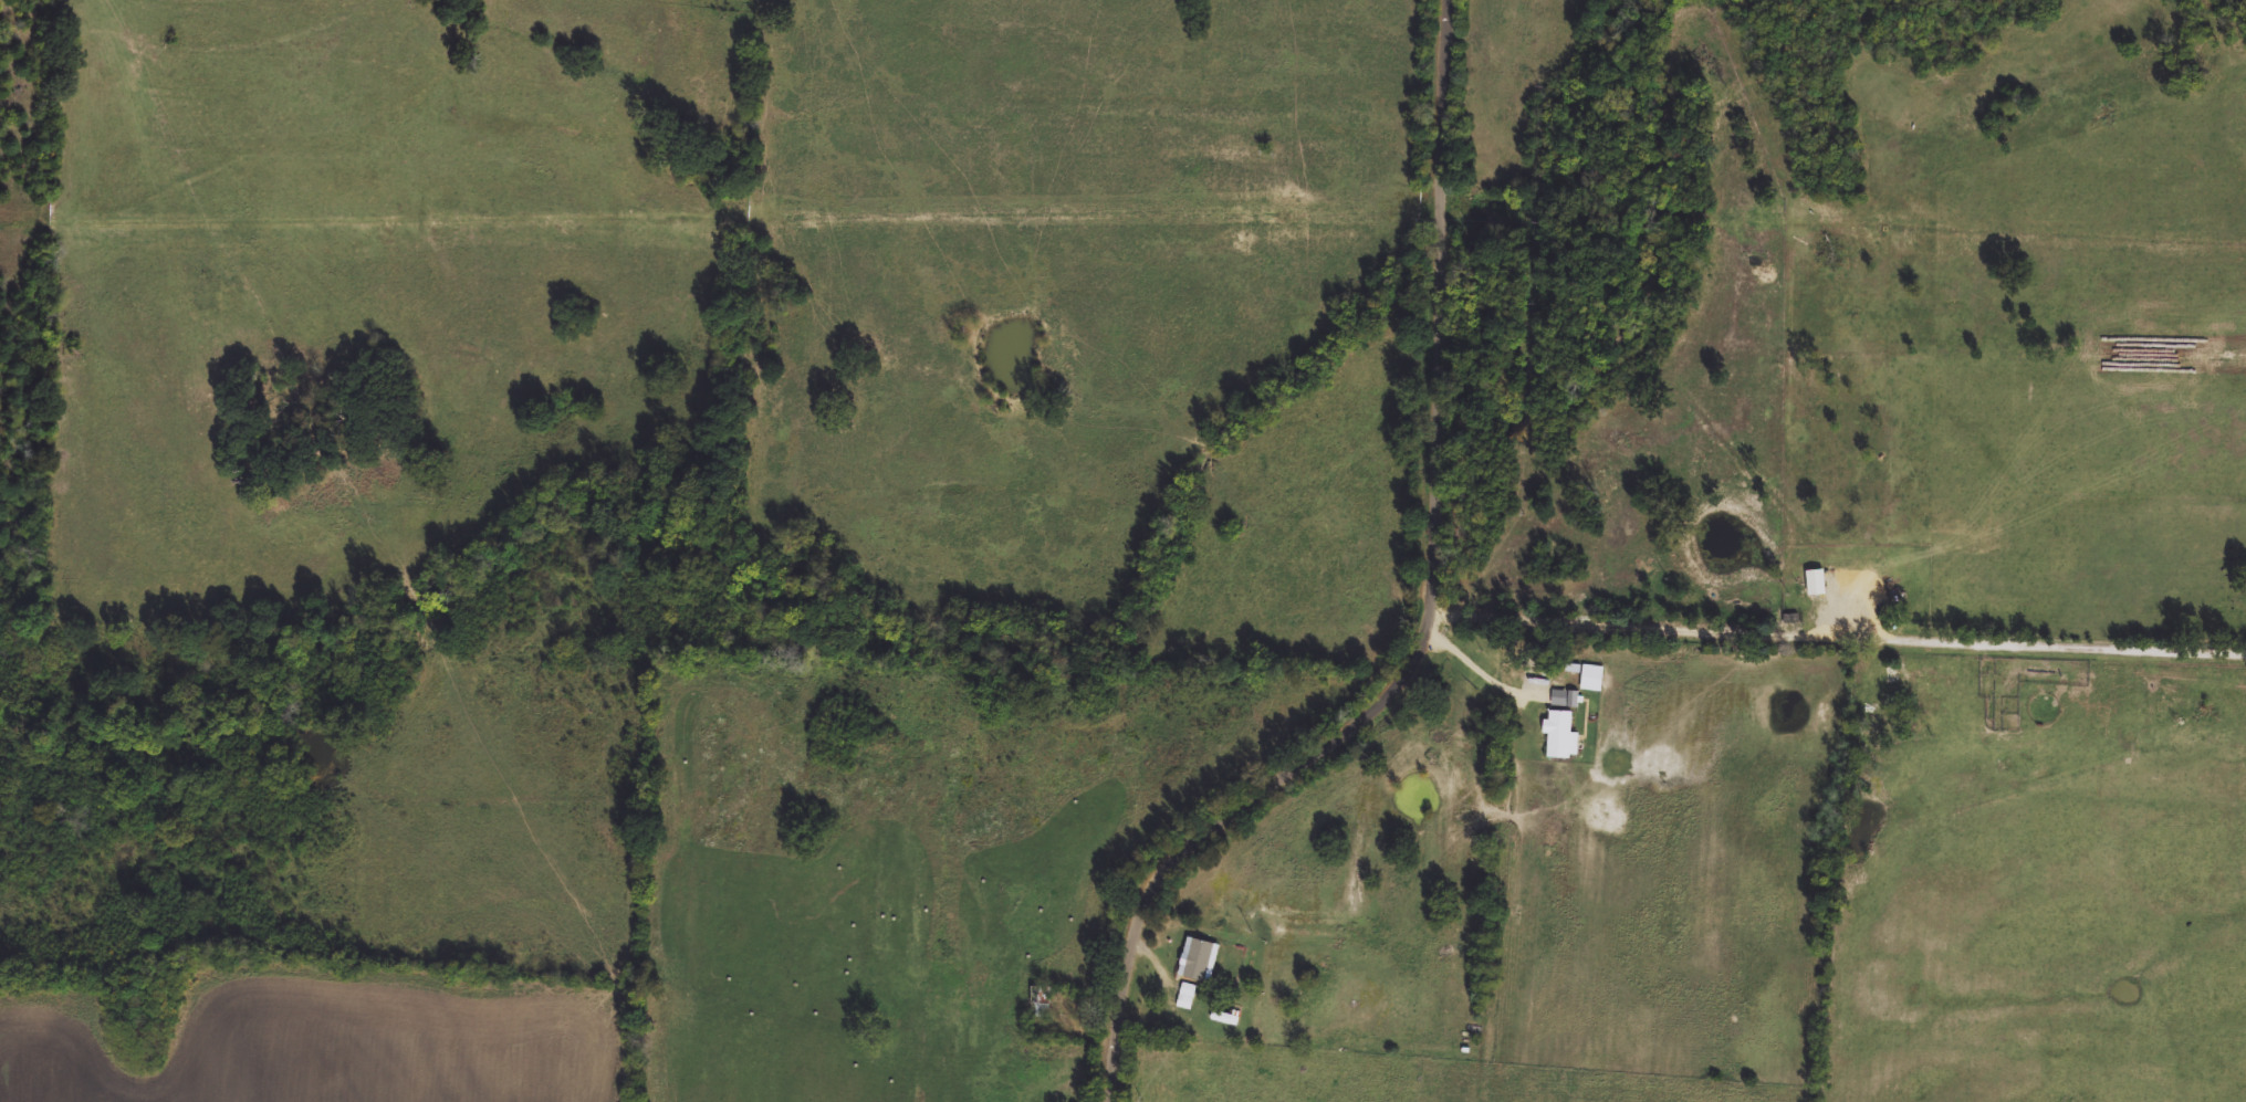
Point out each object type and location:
building: (1819, 585)
building: (1860, 600)
road: (1427, 616)
road: (1662, 627)
building: (1596, 680)
building: (1893, 680)
building: (1568, 701)
building: (2172, 710)
building: (1561, 728)
building: (1194, 963)
road: (1164, 965)
building: (1241, 998)
building: (1043, 1003)

